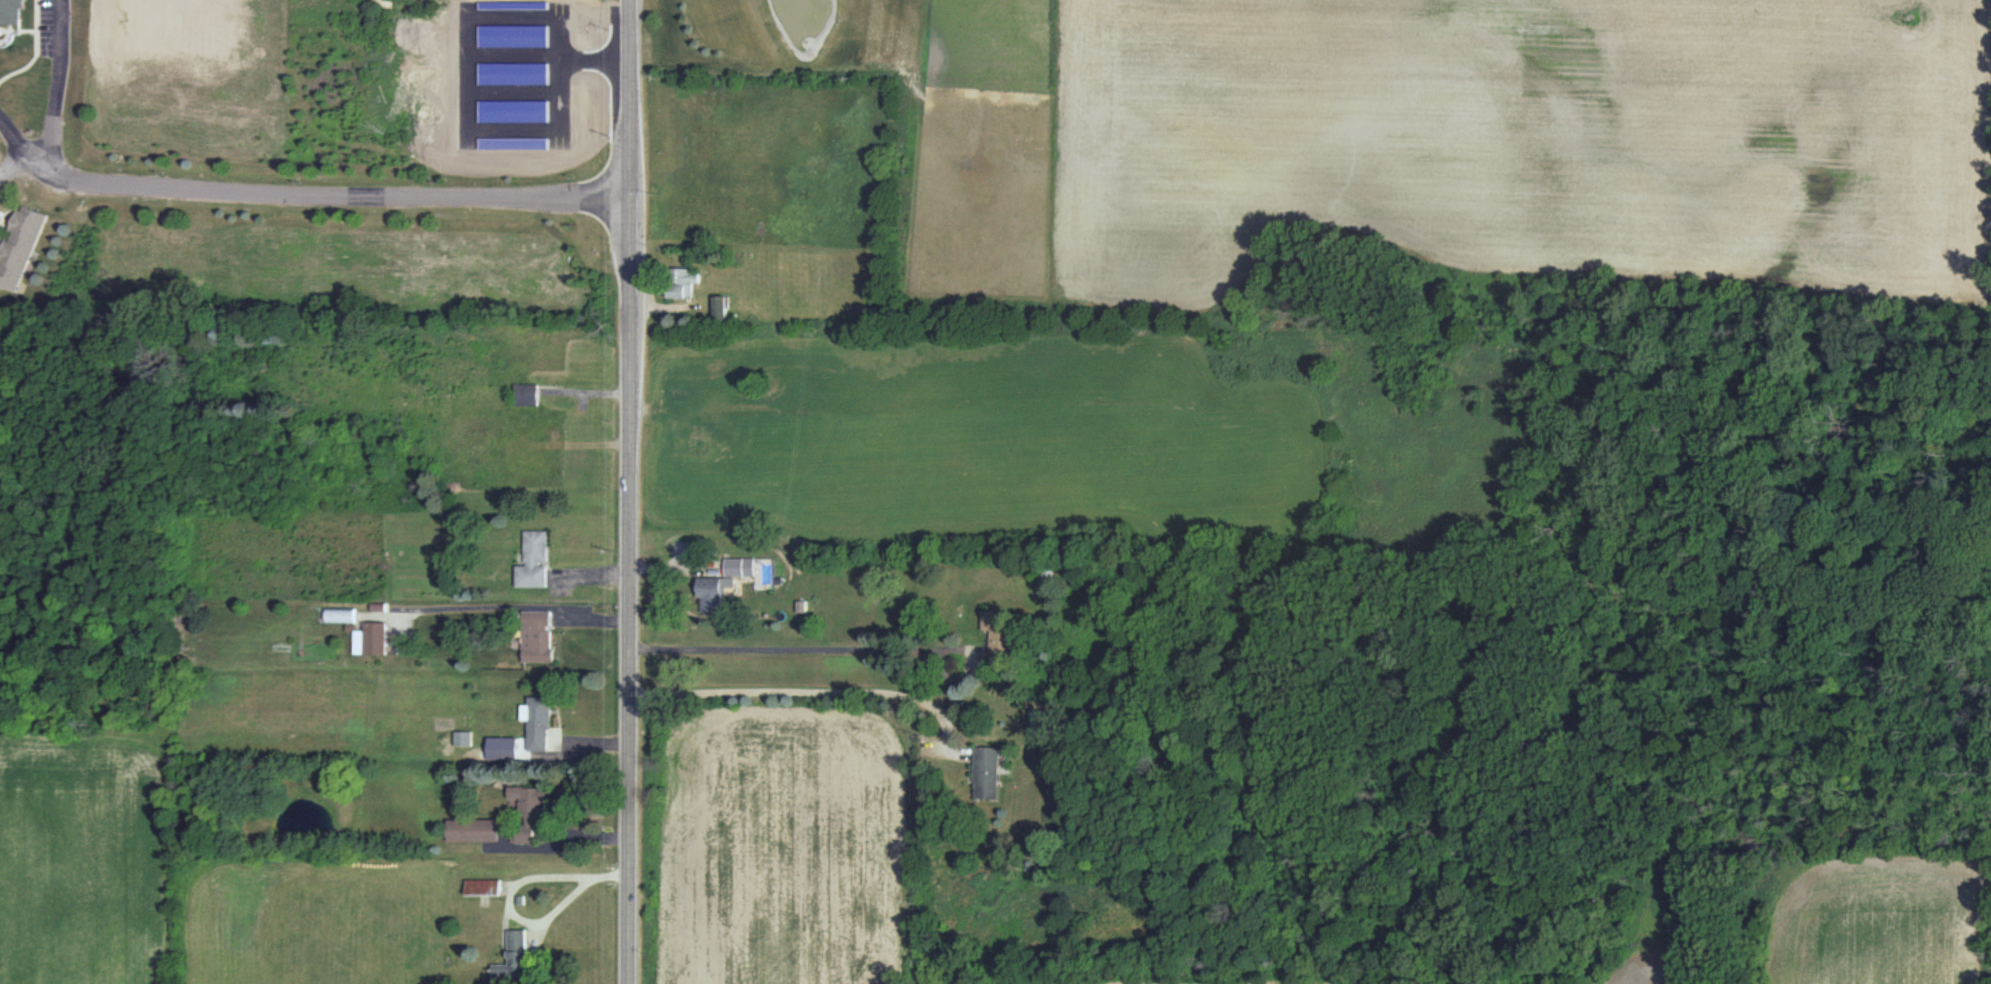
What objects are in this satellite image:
building: (9, 11)
road: (568, 77)
road: (56, 80)
road: (632, 97)
building: (550, 101)
road: (12, 134)
crop: (1522, 140)
road: (13, 161)
road: (325, 195)
road: (10, 211)
building: (0, 218)
road: (2, 219)
road: (6, 226)
road: (2, 242)
building: (20, 248)
building: (685, 283)
building: (723, 310)
building: (553, 363)
building: (528, 395)
building: (528, 457)
building: (536, 560)
building: (741, 567)
road: (632, 590)
building: (715, 593)
building: (341, 615)
building: (999, 631)
building: (540, 637)
building: (373, 639)
road: (805, 648)
road: (804, 696)
building: (540, 723)
building: (463, 738)
building: (987, 772)
building: (530, 808)
building: (475, 831)
crop: (85, 848)
building: (487, 889)
crop: (1873, 922)
crop: (1641, 942)
building: (515, 961)

